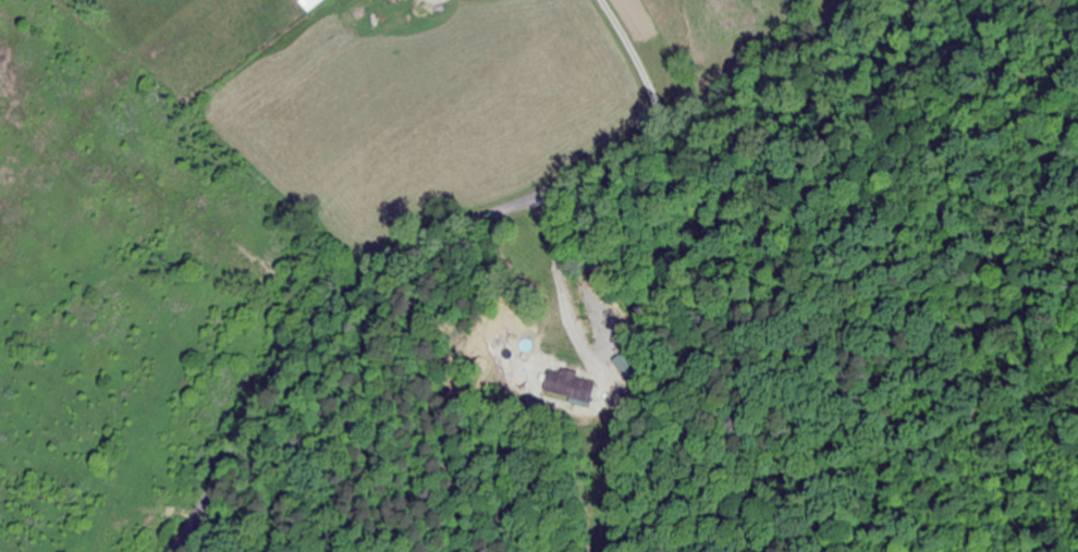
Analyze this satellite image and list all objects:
building: (310, 3)
road: (457, 224)
building: (628, 367)

